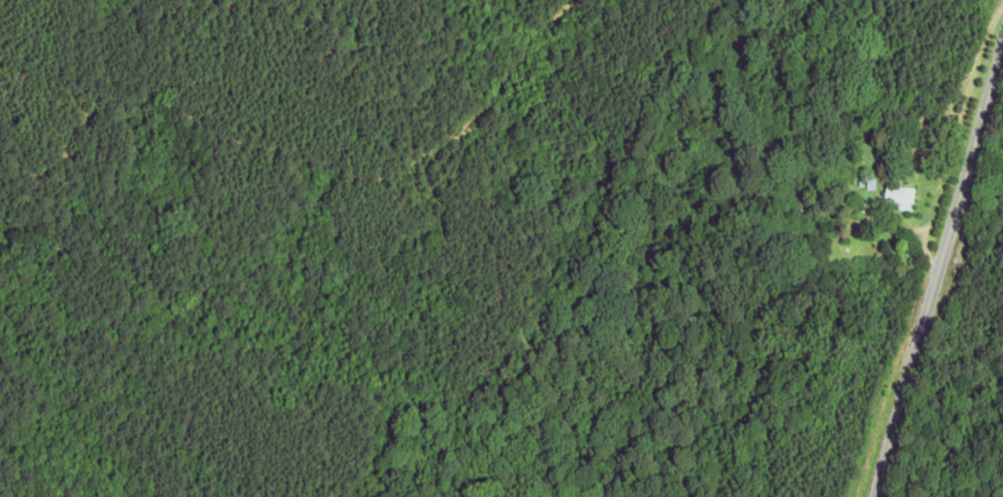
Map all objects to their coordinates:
building: (899, 196)
road: (945, 275)

